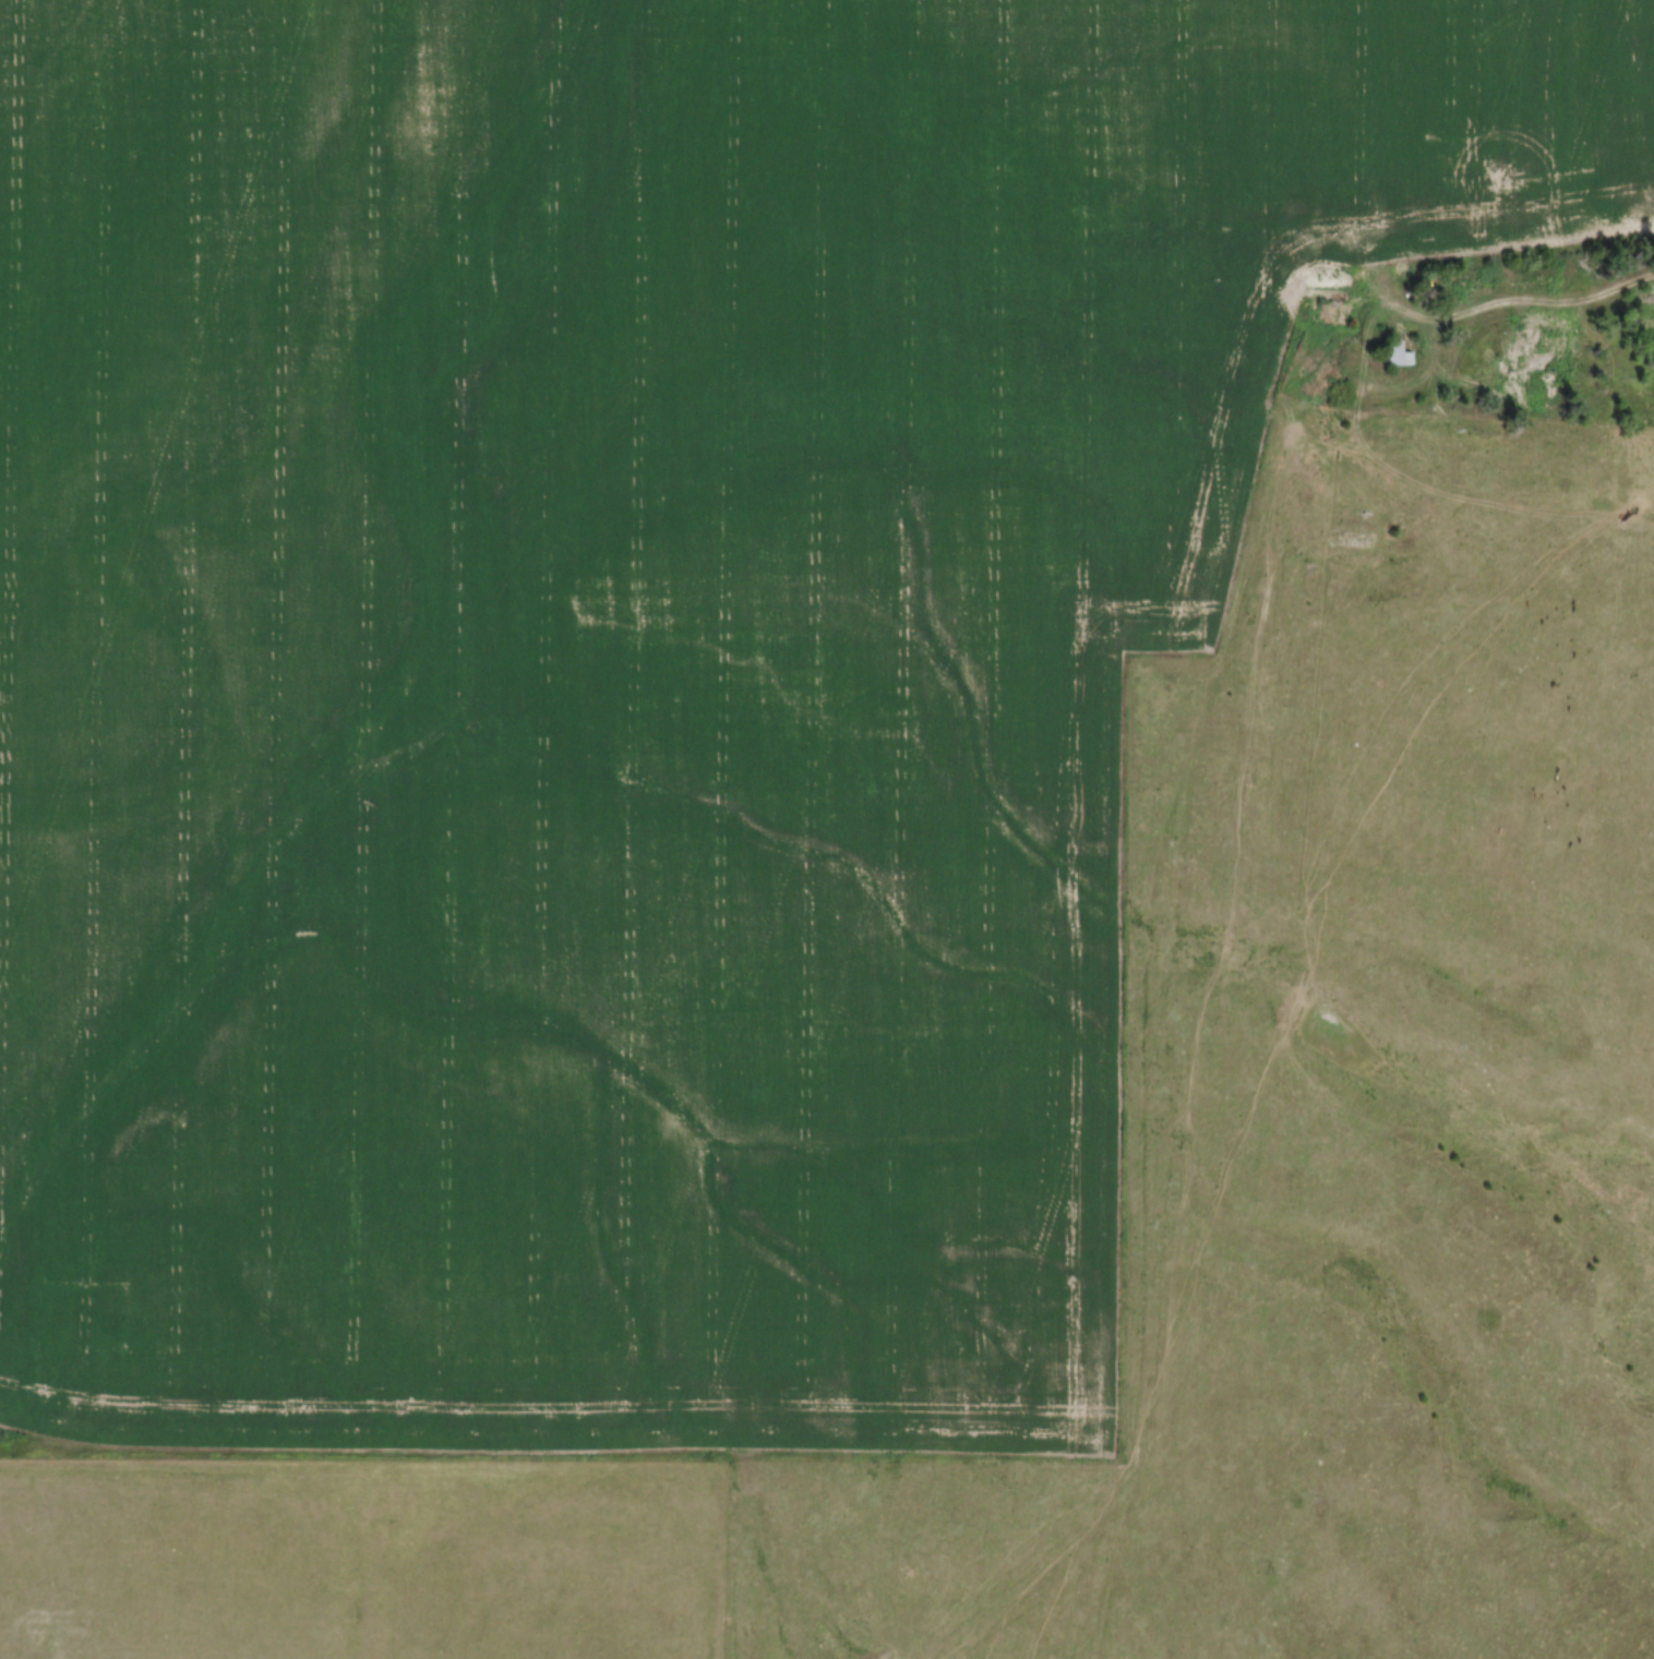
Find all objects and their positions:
road: (1544, 302)
building: (1332, 314)
building: (1399, 353)
building: (1534, 361)

